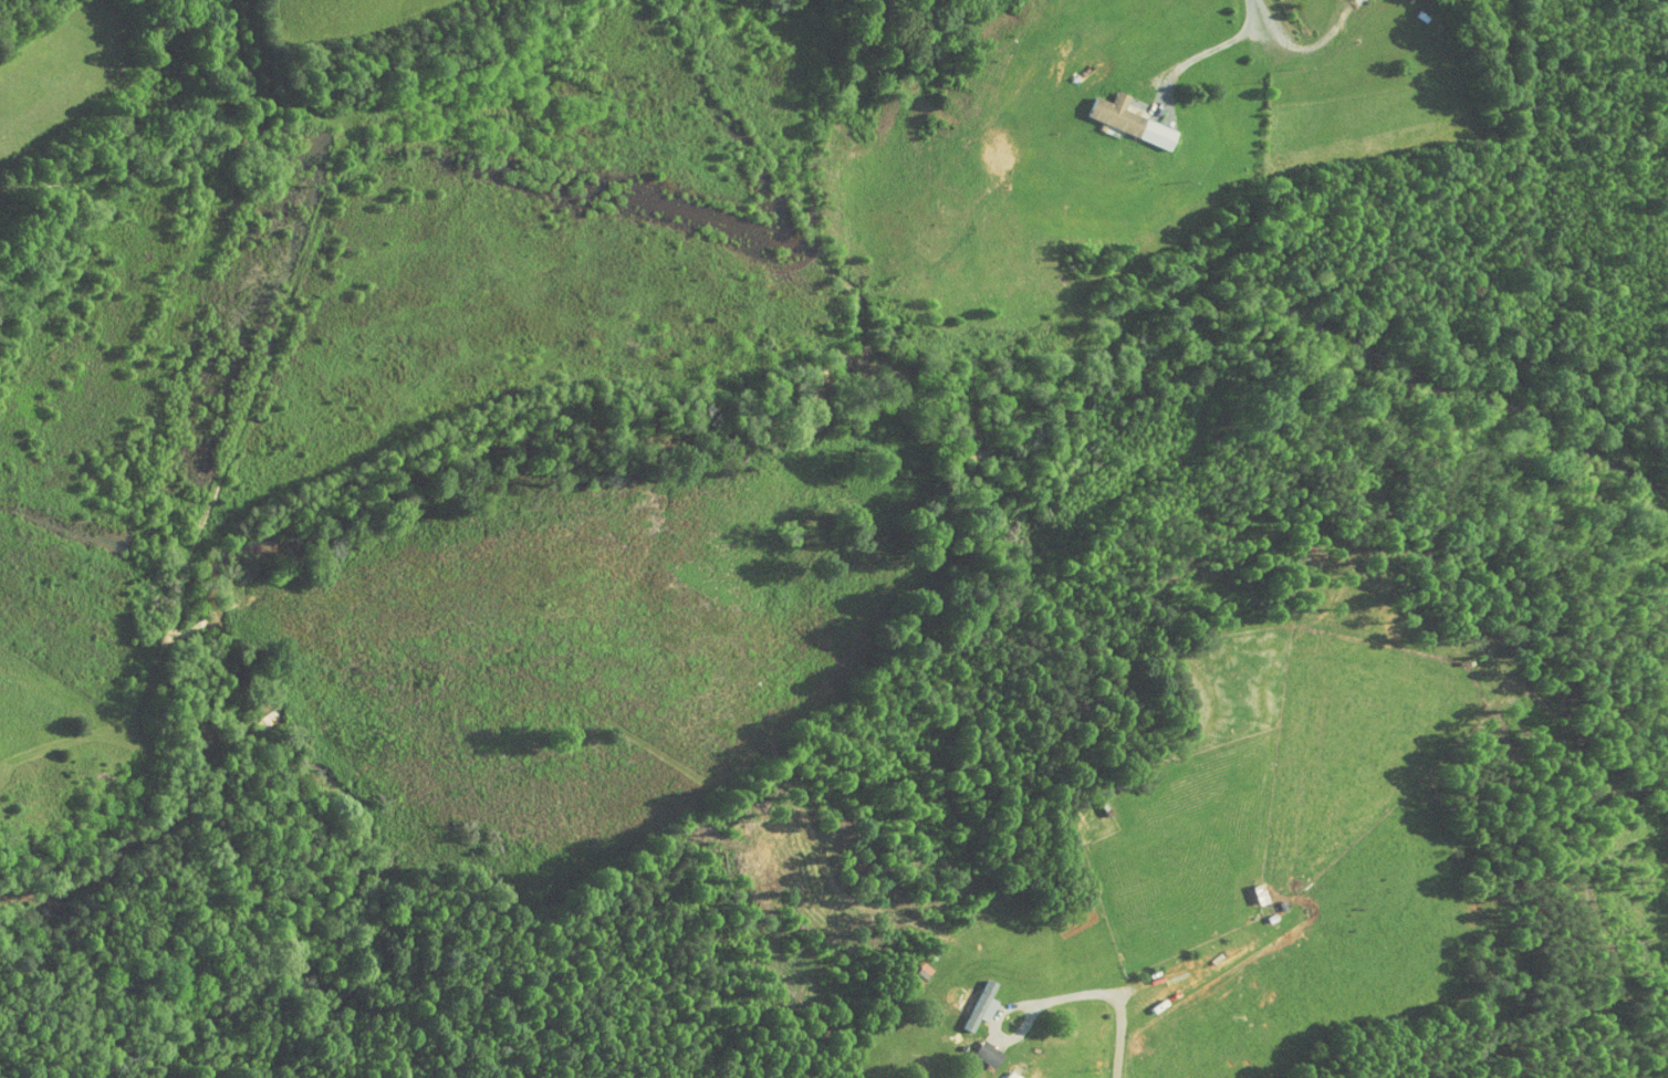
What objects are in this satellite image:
road: (1262, 12)
road: (1311, 46)
road: (1210, 48)
building: (1117, 114)
building: (908, 967)
road: (1107, 995)
building: (967, 997)
building: (974, 1047)
building: (1001, 1072)

